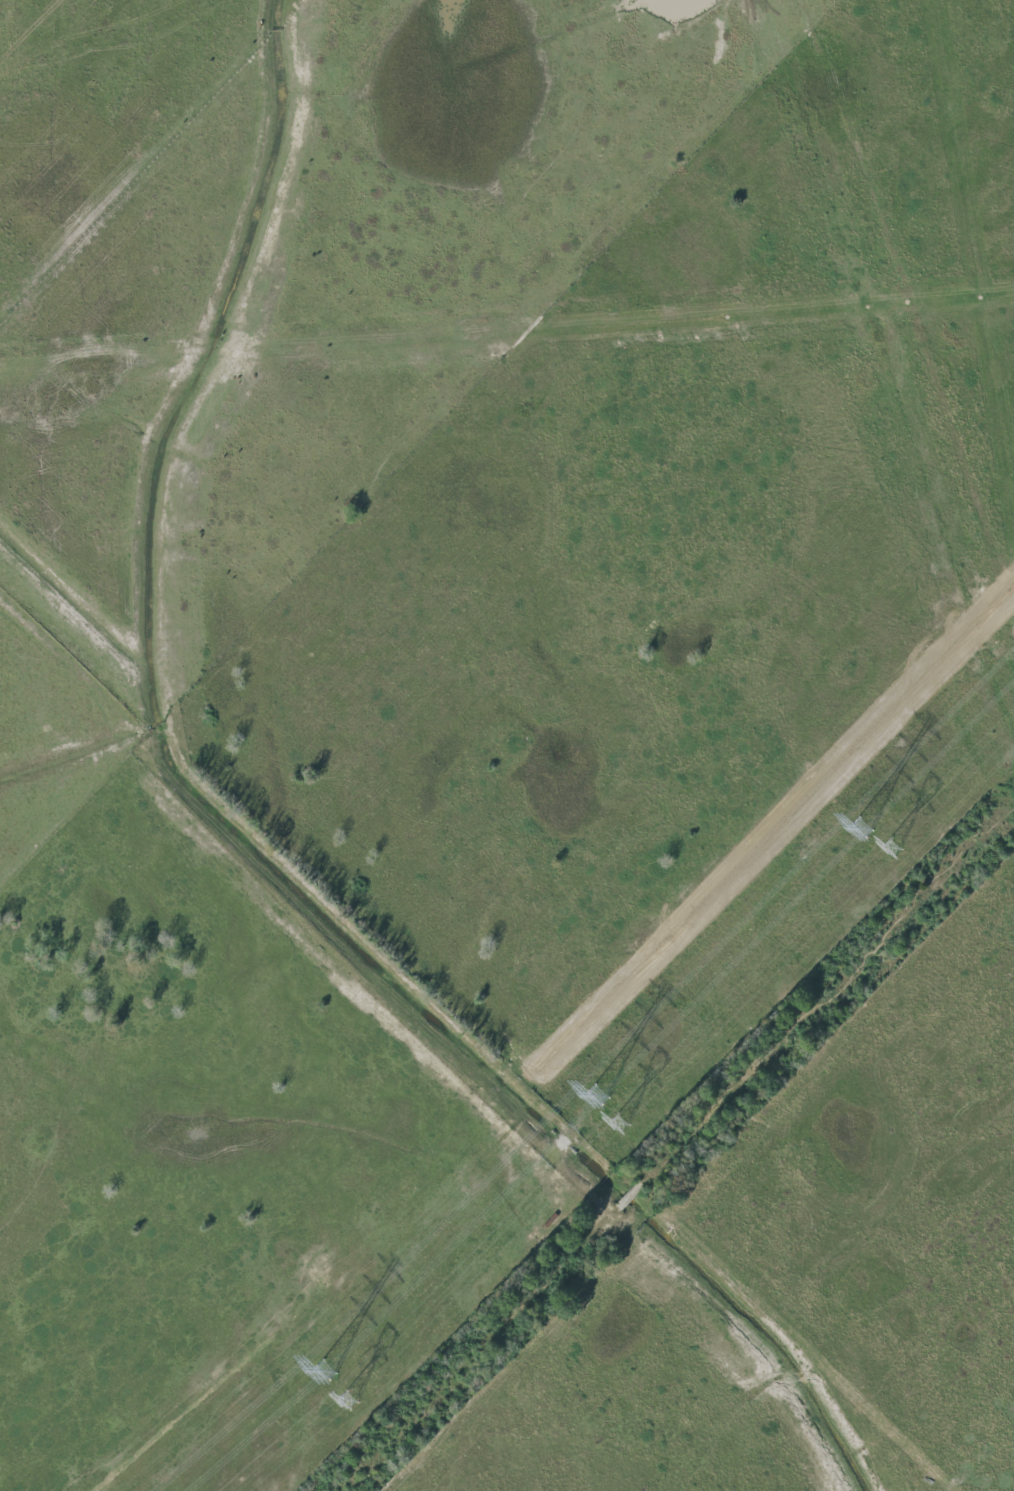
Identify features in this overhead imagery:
power tower: (862, 827)
power tower: (890, 846)
power tower: (597, 1096)
power tower: (619, 1125)
railway: (670, 1158)
power tower: (326, 1369)
power tower: (347, 1401)

